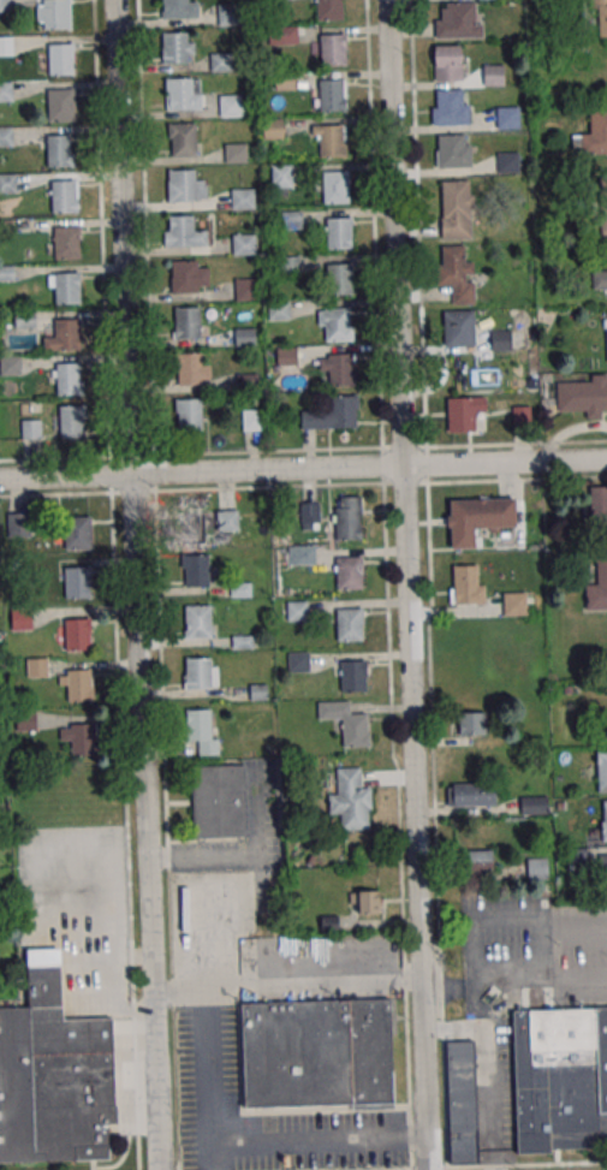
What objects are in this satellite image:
building: (281, 0)
building: (2, 6)
building: (173, 8)
building: (327, 10)
building: (54, 14)
building: (227, 16)
building: (458, 20)
building: (602, 24)
building: (282, 35)
building: (6, 46)
building: (173, 48)
building: (331, 51)
building: (59, 60)
building: (219, 63)
building: (446, 64)
building: (492, 76)
building: (282, 81)
building: (5, 91)
building: (178, 94)
building: (329, 95)
building: (58, 105)
building: (228, 106)
building: (448, 109)
building: (506, 118)
building: (272, 129)
building: (5, 136)
building: (593, 136)
building: (181, 139)
building: (329, 141)
building: (56, 150)
building: (452, 152)
building: (234, 153)
building: (506, 162)
building: (280, 176)
building: (7, 183)
building: (180, 185)
building: (333, 188)
building: (61, 196)
building: (240, 198)
building: (603, 206)
building: (457, 208)
building: (292, 220)
building: (179, 231)
building: (337, 233)
building: (65, 243)
building: (242, 245)
building: (451, 262)
building: (290, 265)
building: (183, 277)
building: (337, 280)
building: (600, 280)
building: (65, 289)
building: (244, 290)
building: (276, 310)
building: (23, 319)
building: (185, 323)
building: (334, 325)
building: (458, 328)
building: (65, 334)
building: (606, 334)
building: (243, 337)
building: (500, 339)
building: (8, 366)
building: (188, 369)
building: (339, 369)
building: (66, 379)
building: (245, 382)
building: (583, 397)
building: (341, 412)
building: (457, 414)
building: (188, 415)
building: (522, 416)
building: (252, 420)
building: (69, 422)
building: (29, 429)
road: (303, 468)
road: (403, 483)
road: (130, 492)
building: (599, 507)
building: (347, 517)
building: (477, 518)
building: (17, 524)
building: (191, 528)
building: (76, 533)
building: (300, 554)
building: (194, 571)
building: (349, 572)
building: (76, 583)
road: (136, 584)
road: (407, 584)
building: (466, 584)
building: (597, 584)
building: (513, 604)
building: (20, 618)
building: (196, 622)
building: (349, 624)
building: (76, 635)
building: (298, 661)
building: (37, 667)
building: (196, 673)
building: (350, 676)
building: (78, 685)
building: (25, 720)
building: (346, 723)
building: (472, 723)
building: (201, 730)
building: (82, 740)
building: (601, 770)
building: (471, 795)
building: (351, 800)
building: (219, 801)
building: (534, 804)
building: (603, 820)
building: (477, 861)
building: (537, 867)
building: (364, 902)
road: (542, 951)
road: (362, 960)
road: (487, 982)
road: (179, 991)
road: (206, 1014)
building: (316, 1053)
building: (52, 1075)
building: (559, 1080)
building: (462, 1101)
road: (321, 1139)
road: (215, 1156)
road: (482, 1165)

